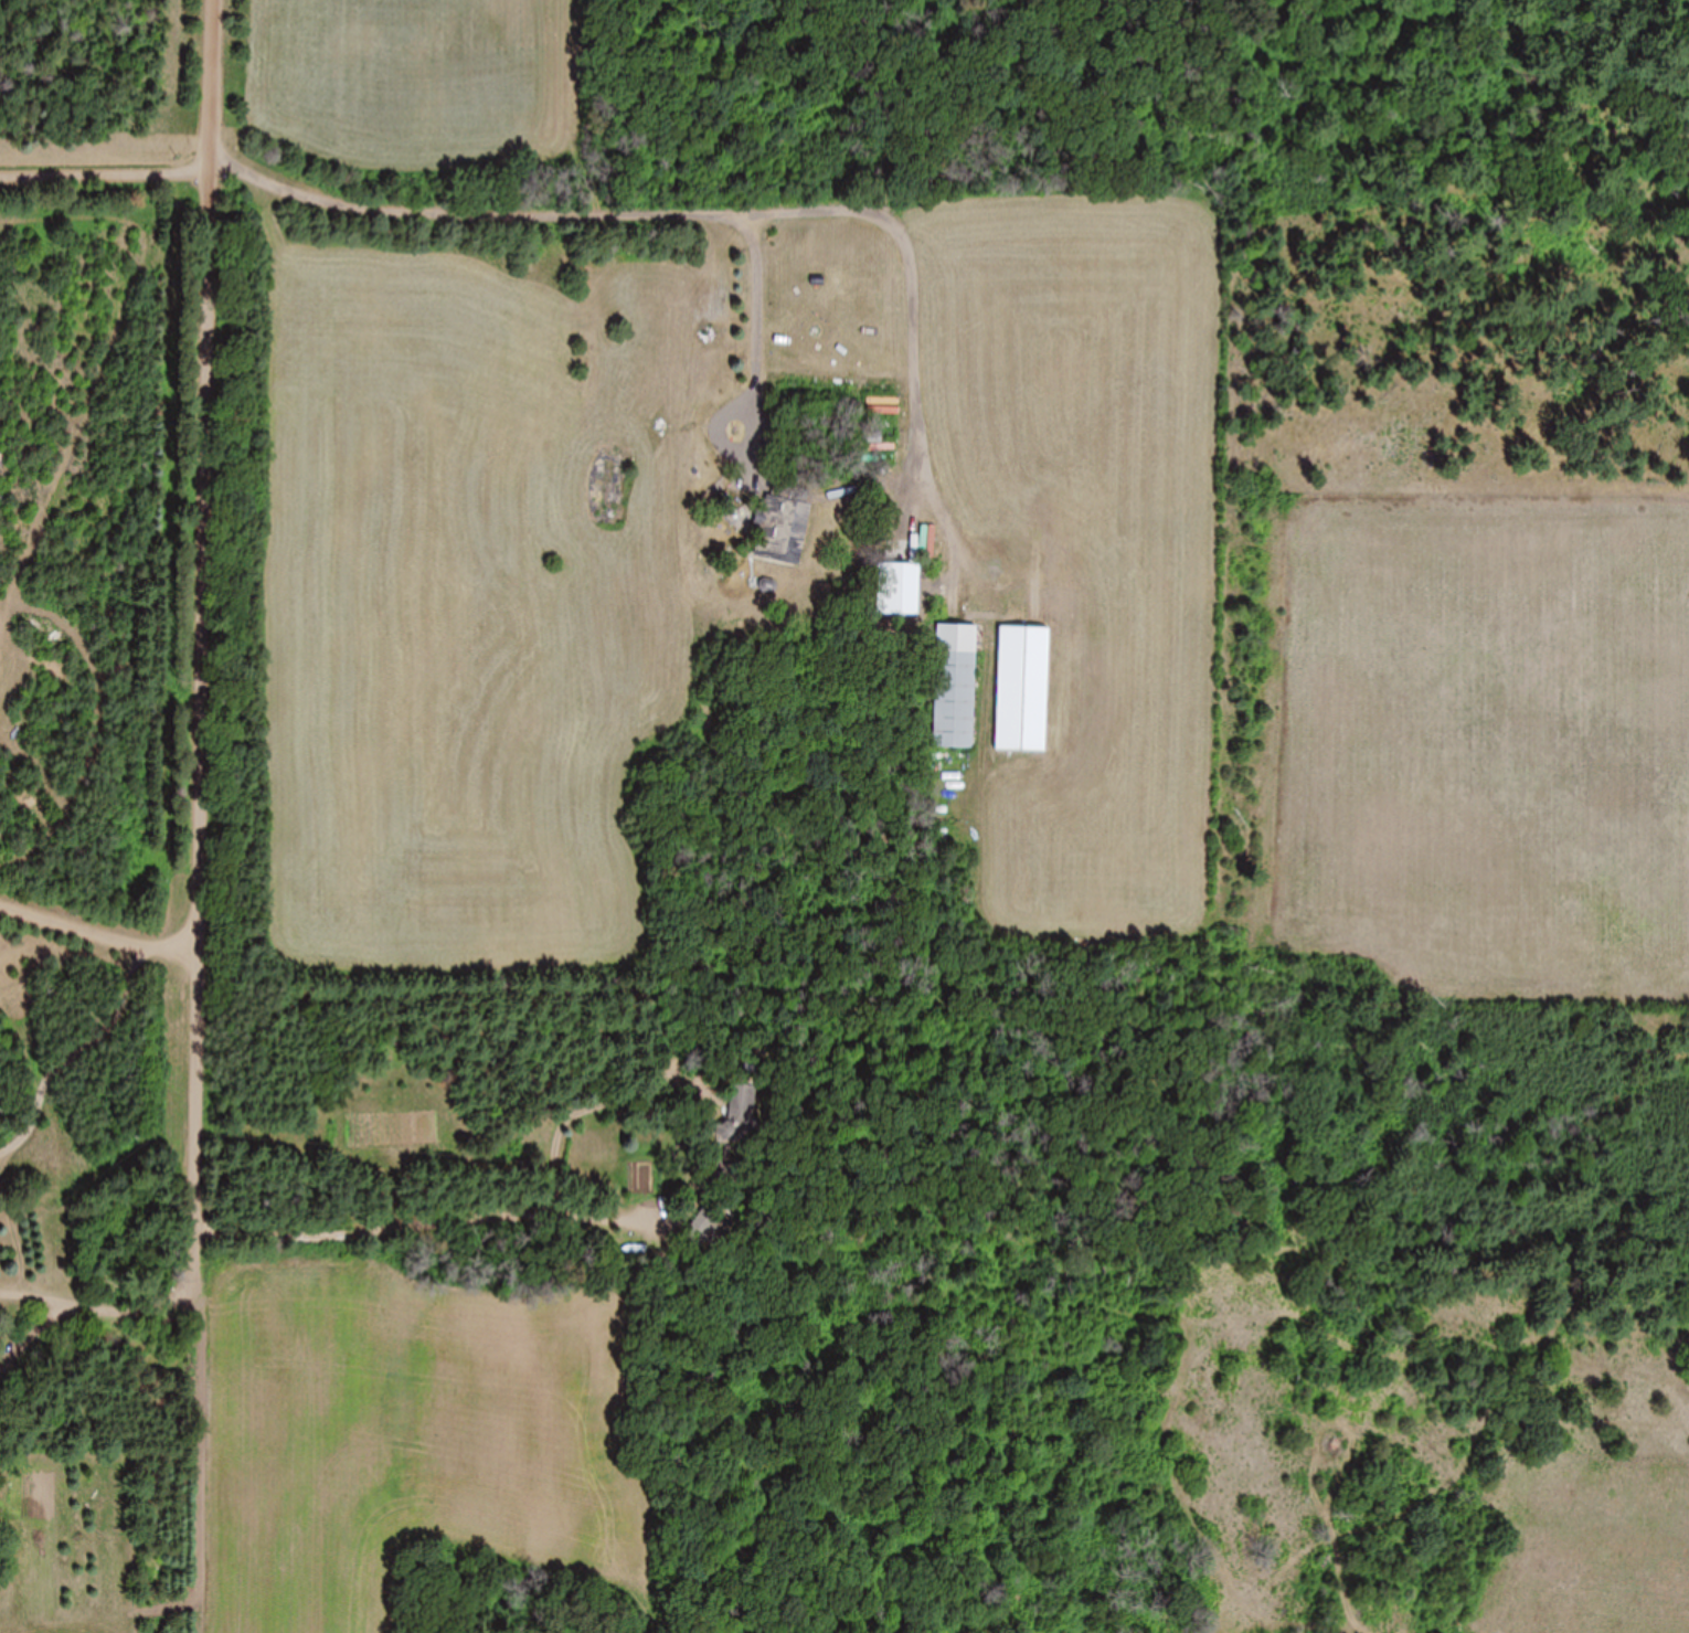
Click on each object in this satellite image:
road: (286, 132)
building: (780, 522)
building: (897, 590)
building: (952, 700)
road: (202, 717)
road: (98, 932)
building: (739, 1117)
road: (432, 1222)
road: (29, 1293)
road: (29, 1334)

